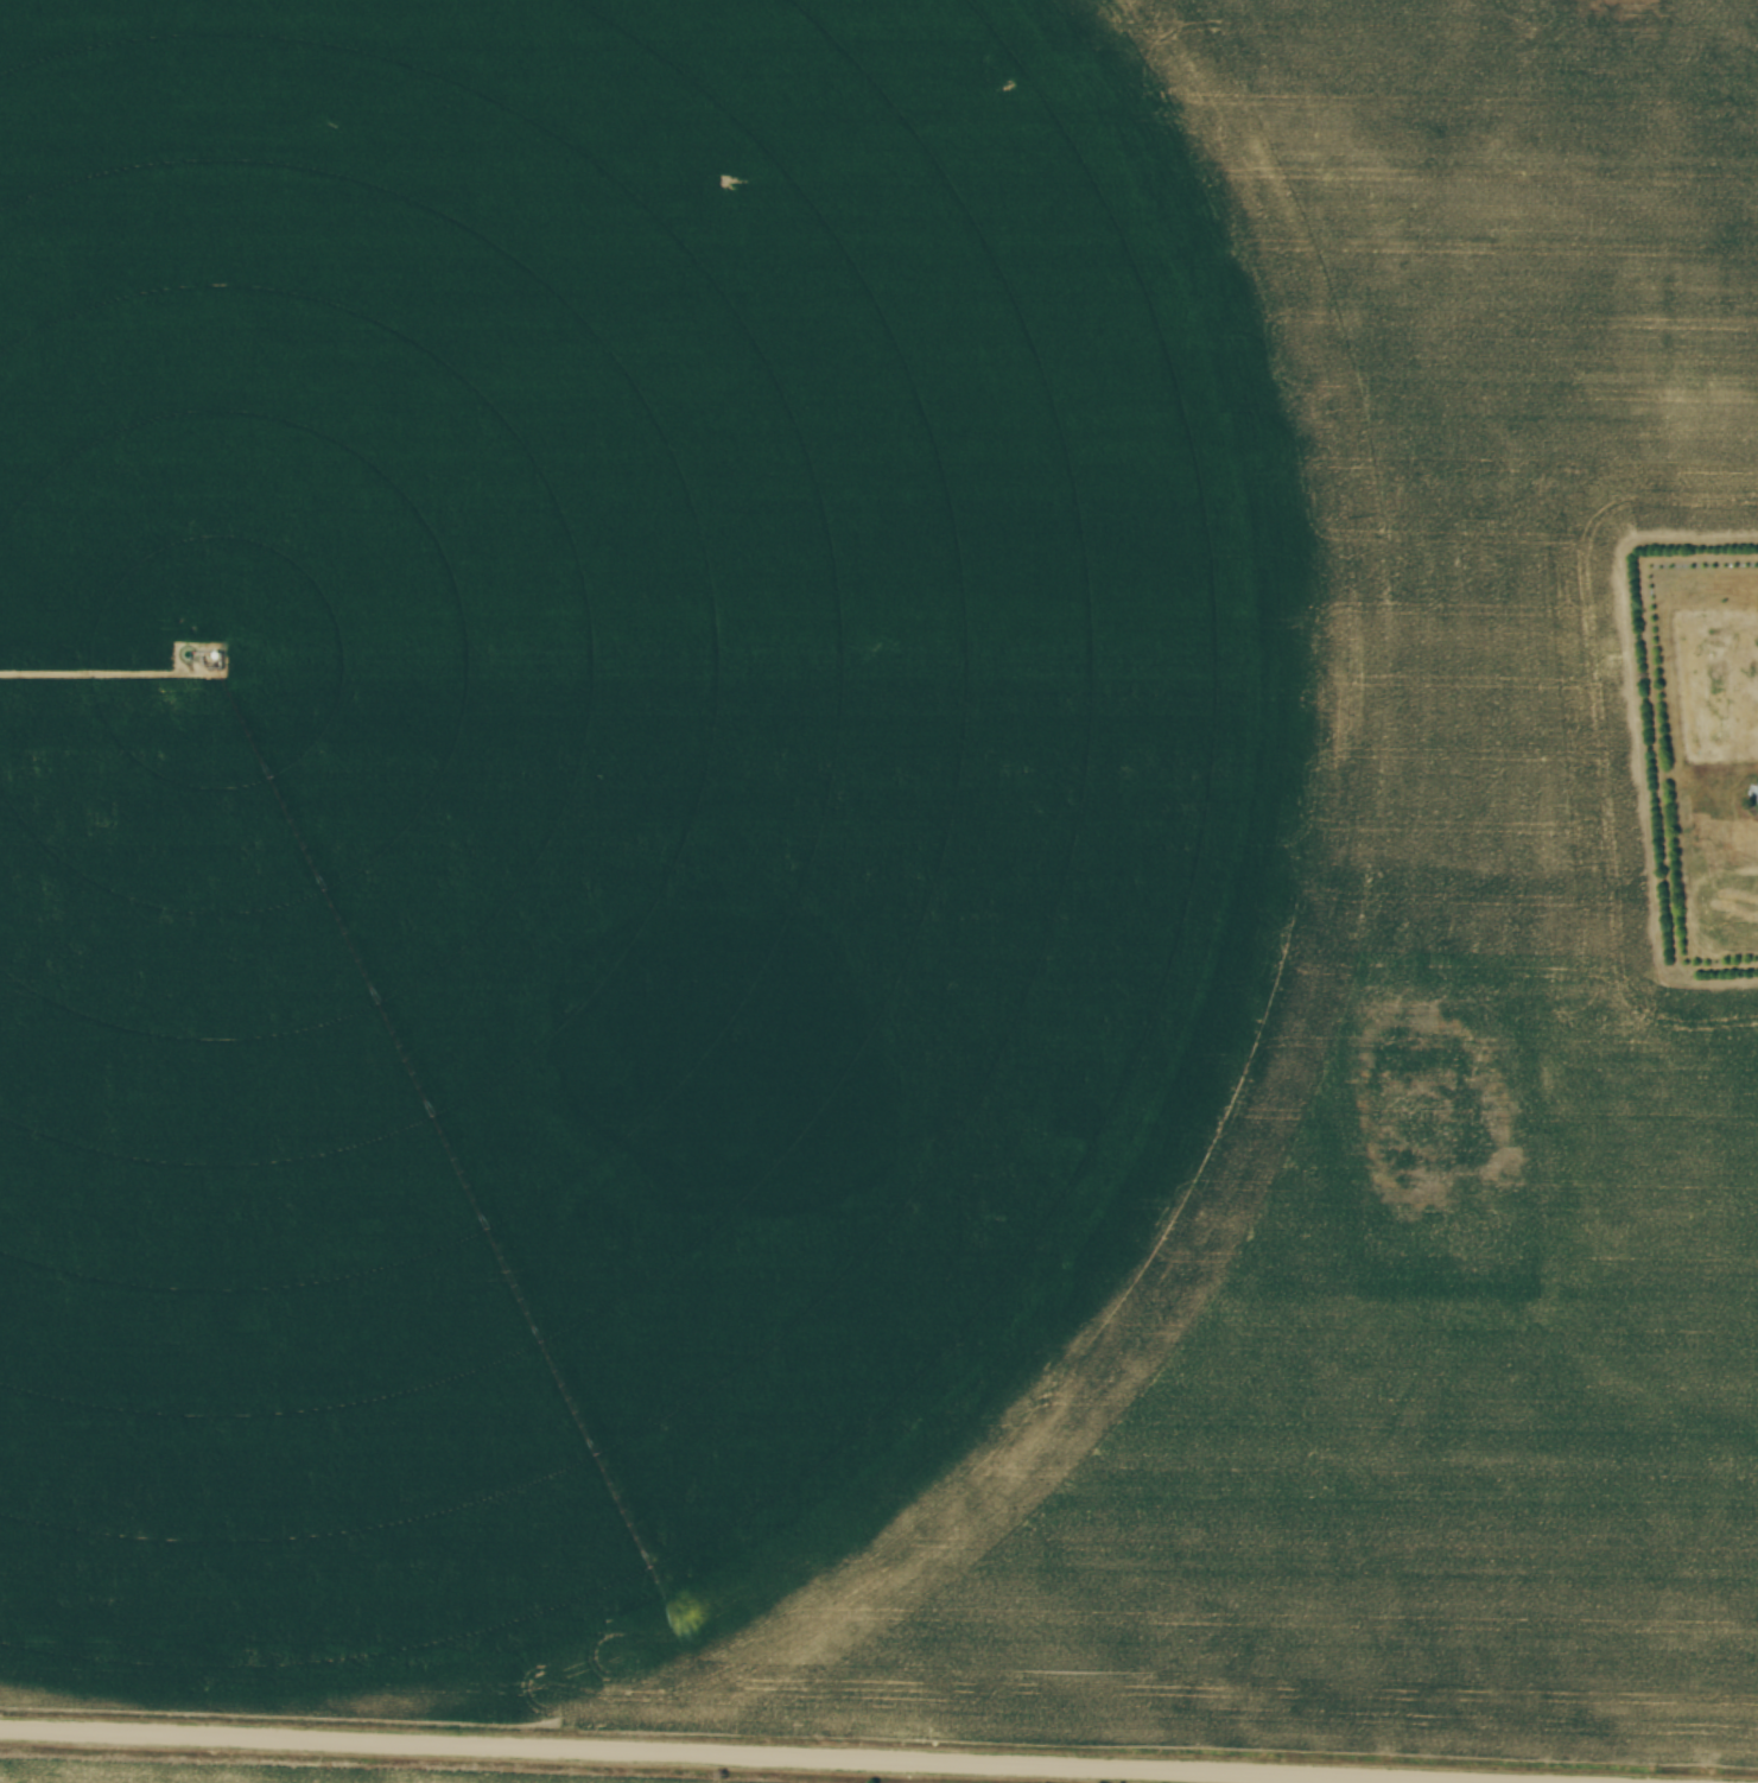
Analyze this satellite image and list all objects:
building: (1756, 795)
road: (786, 1757)

